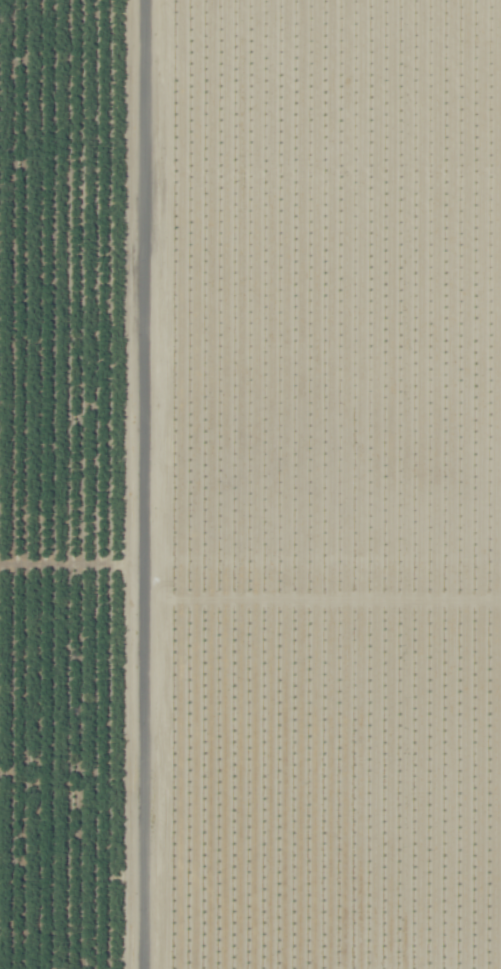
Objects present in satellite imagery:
crop: (66, 483)
road: (146, 484)

